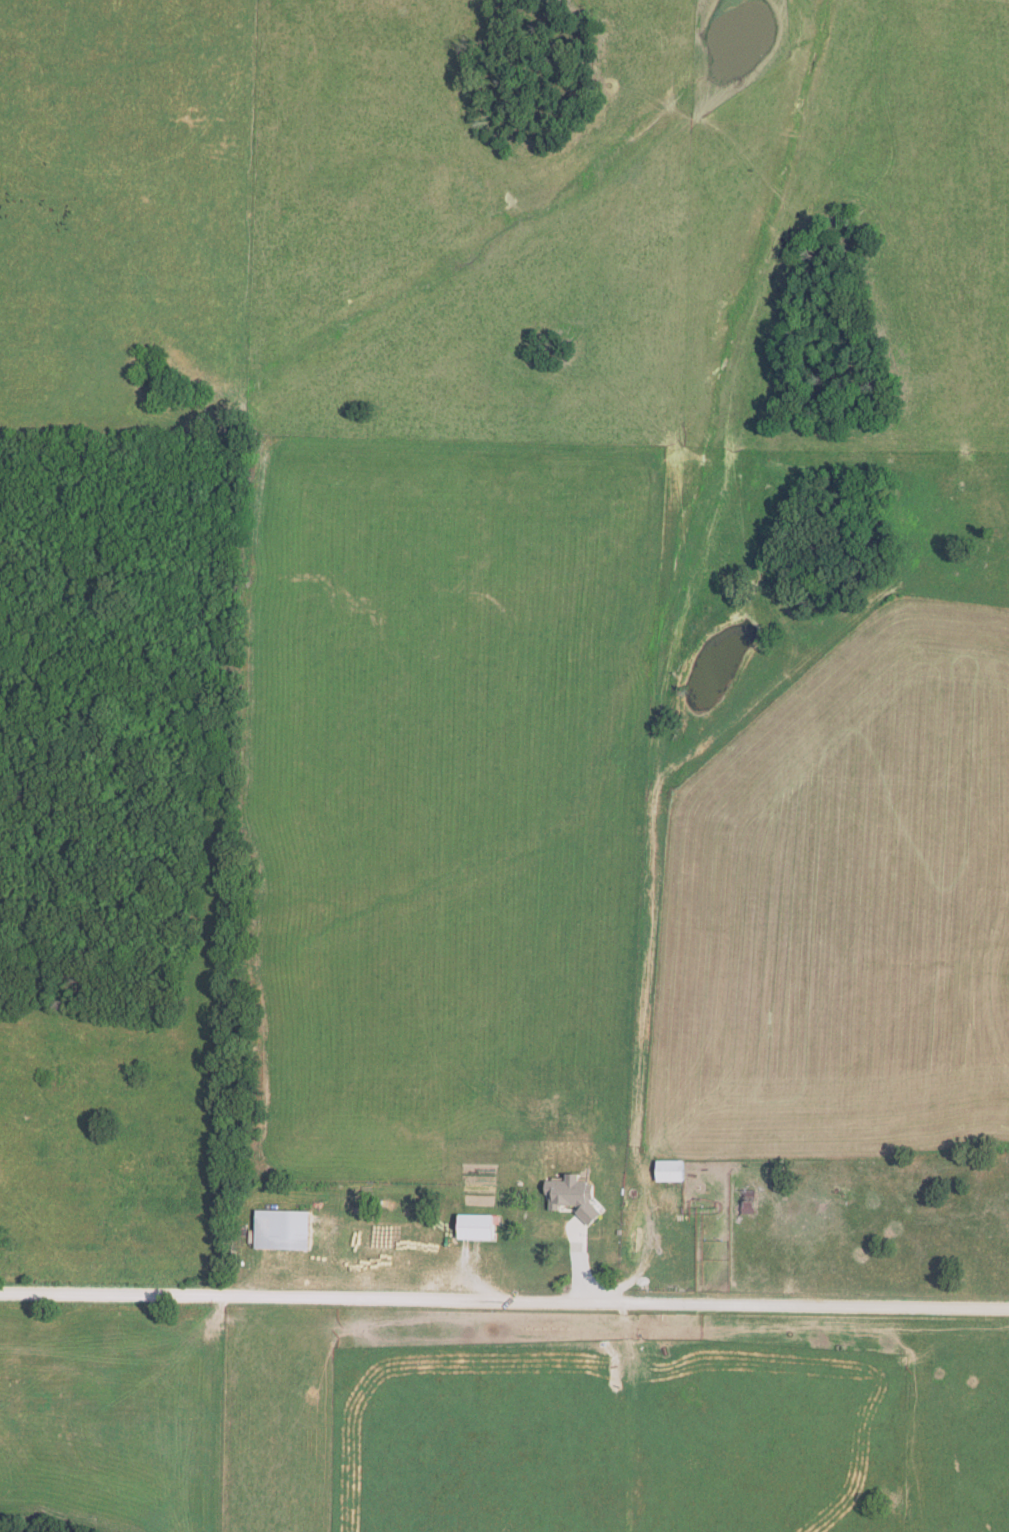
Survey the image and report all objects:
building: (672, 1171)
building: (748, 1201)
building: (479, 1227)
building: (560, 1228)
building: (284, 1230)
road: (504, 1306)

